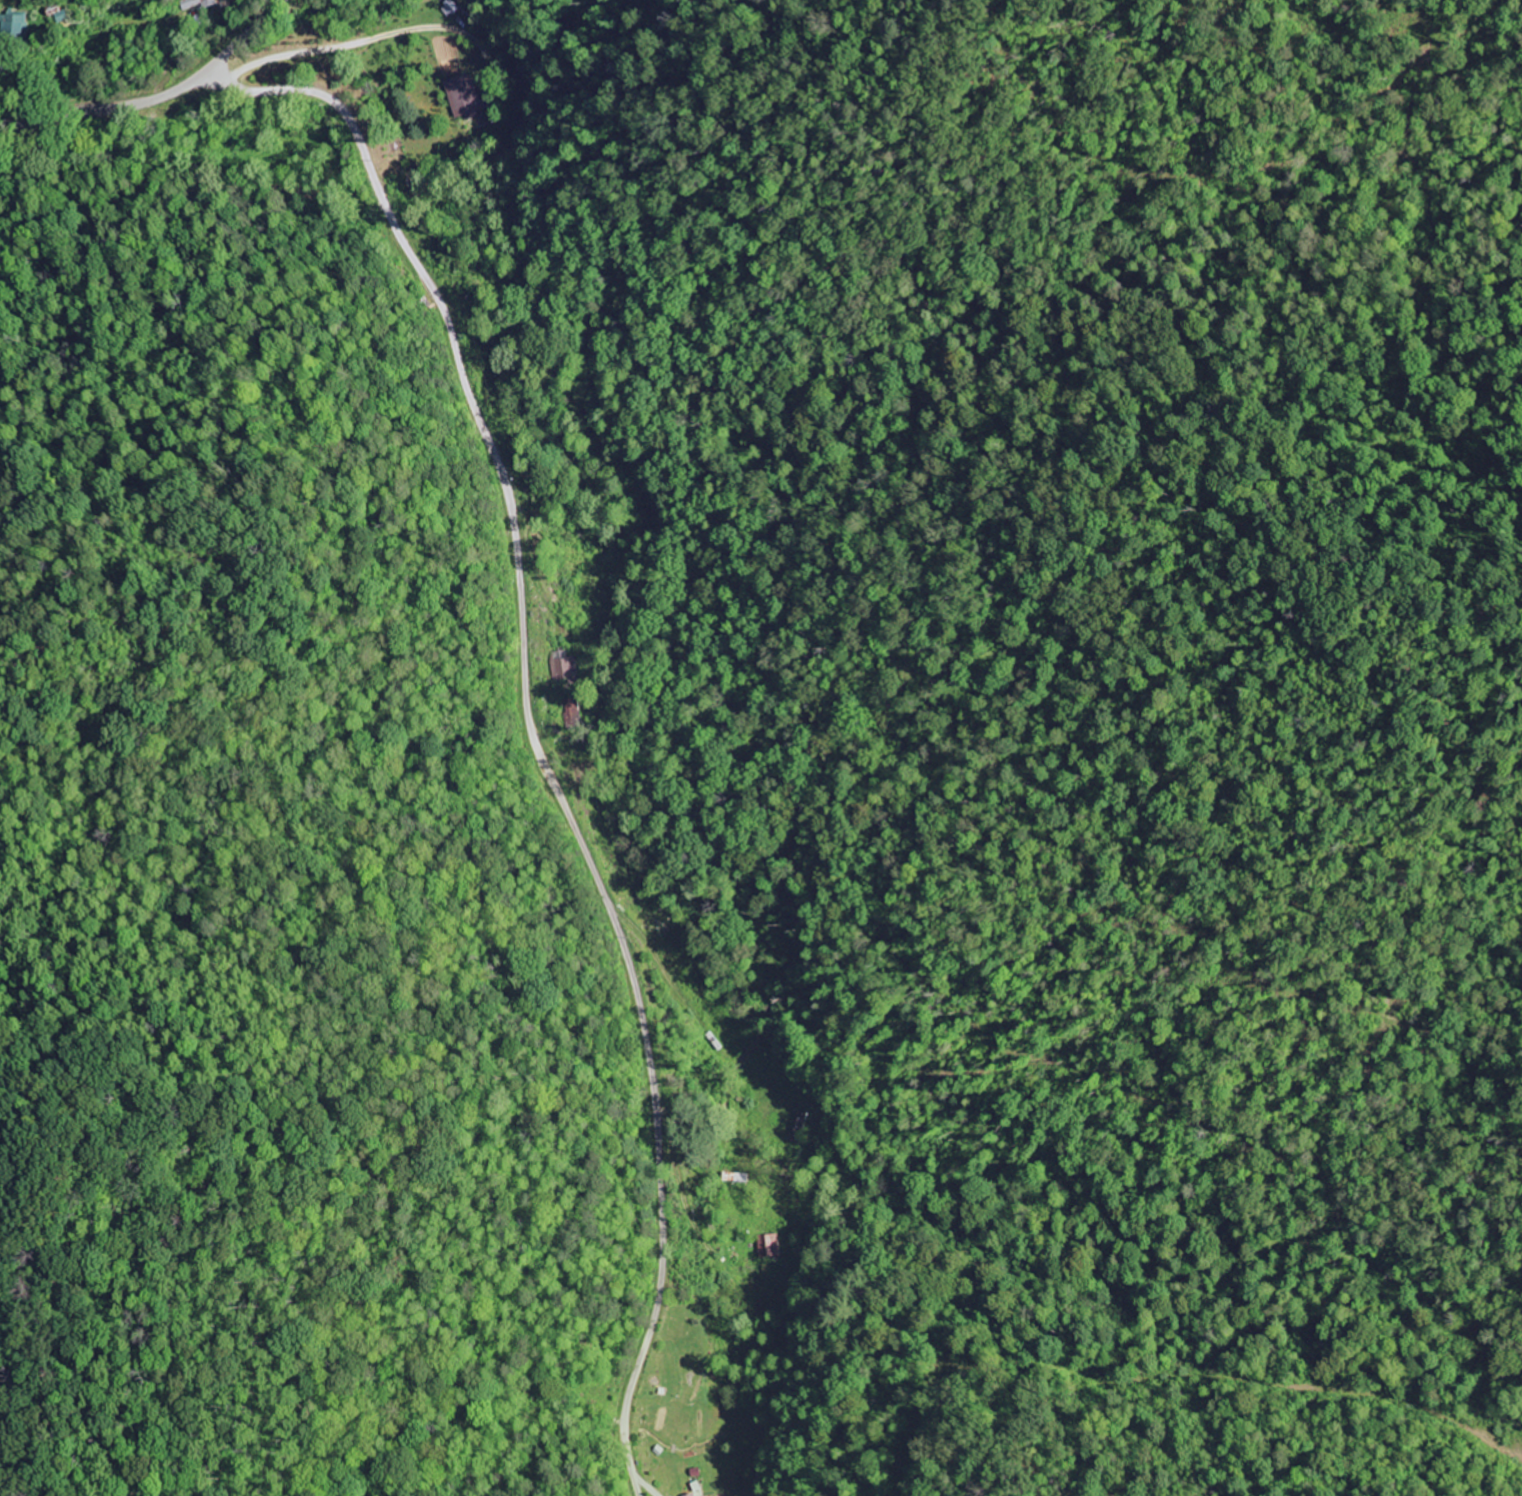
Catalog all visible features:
road: (246, 35)
building: (465, 97)
road: (108, 109)
road: (527, 724)
building: (695, 1495)

